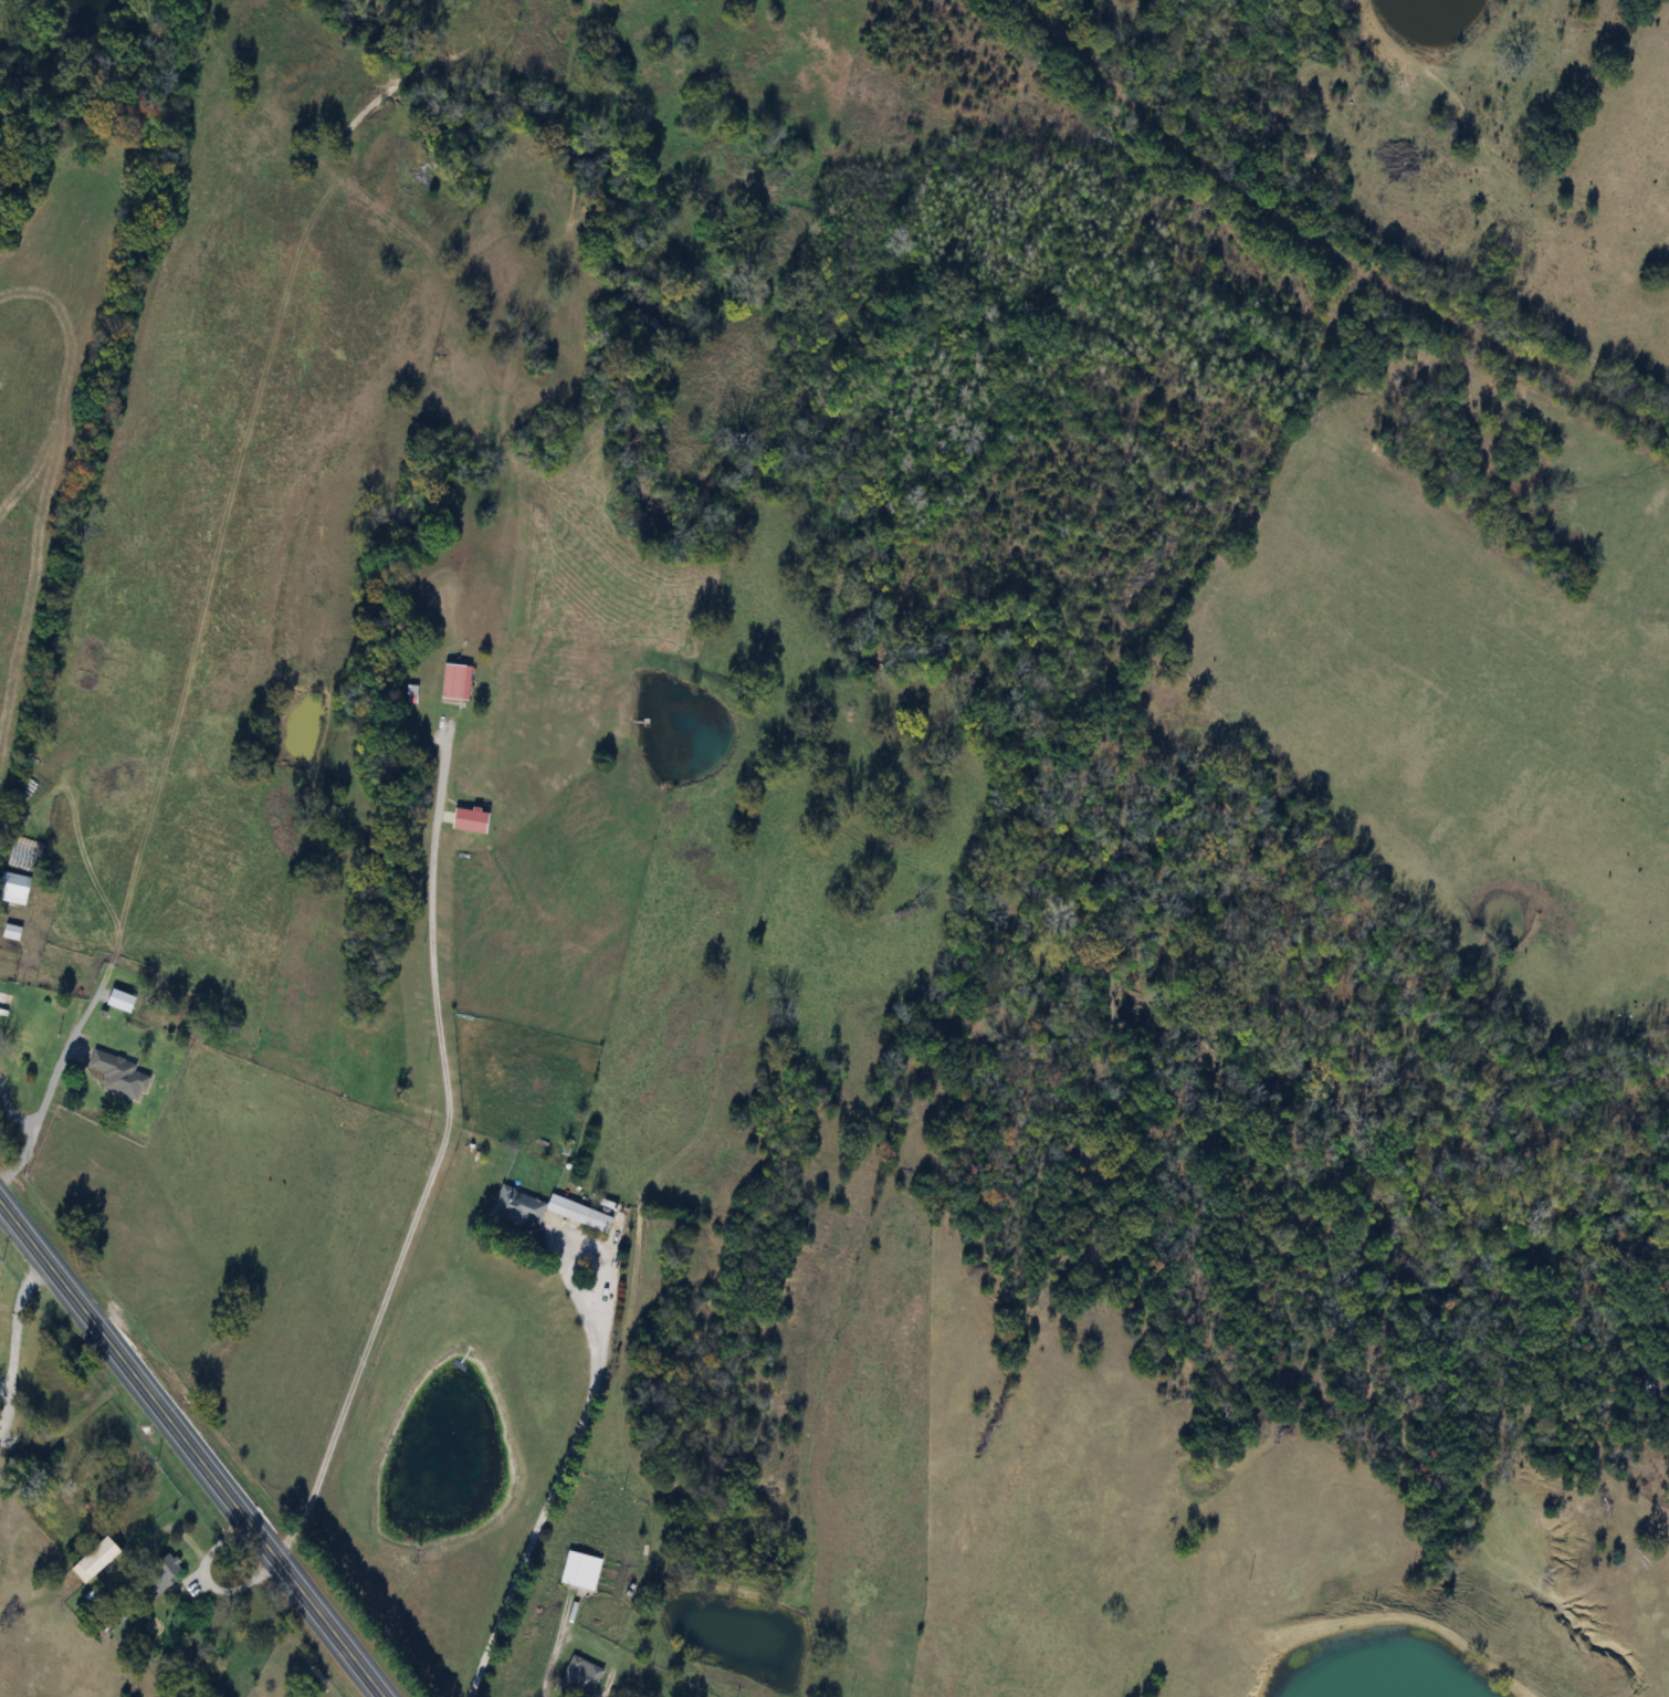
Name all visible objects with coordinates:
railway: (1340, 230)
building: (453, 681)
building: (468, 819)
building: (12, 887)
building: (1, 998)
building: (118, 999)
road: (69, 1046)
building: (117, 1075)
road: (29, 1132)
road: (435, 1157)
building: (543, 1208)
road: (18, 1318)
road: (6, 1383)
road: (9, 1405)
road: (189, 1450)
road: (564, 1467)
building: (93, 1558)
building: (578, 1570)
building: (159, 1573)
building: (578, 1676)
road: (603, 1691)

